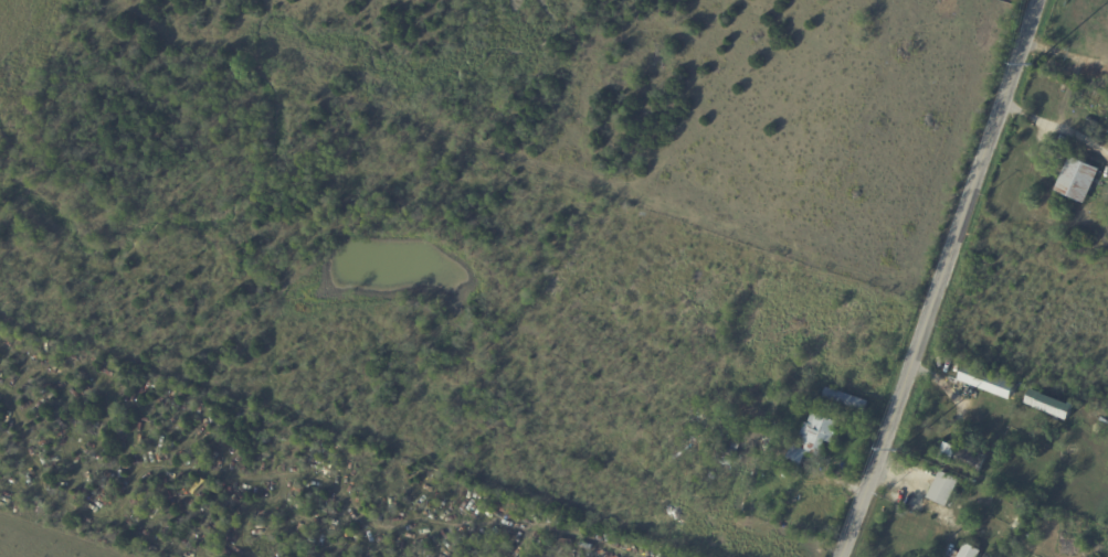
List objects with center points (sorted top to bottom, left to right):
building: (1079, 179)
road: (940, 278)
building: (986, 382)
building: (847, 398)
building: (1064, 409)
building: (821, 431)
building: (695, 441)
building: (778, 449)
building: (729, 452)
building: (785, 452)
building: (965, 457)
building: (798, 459)
building: (714, 475)
building: (946, 489)
building: (800, 493)
building: (1021, 525)
building: (969, 551)

